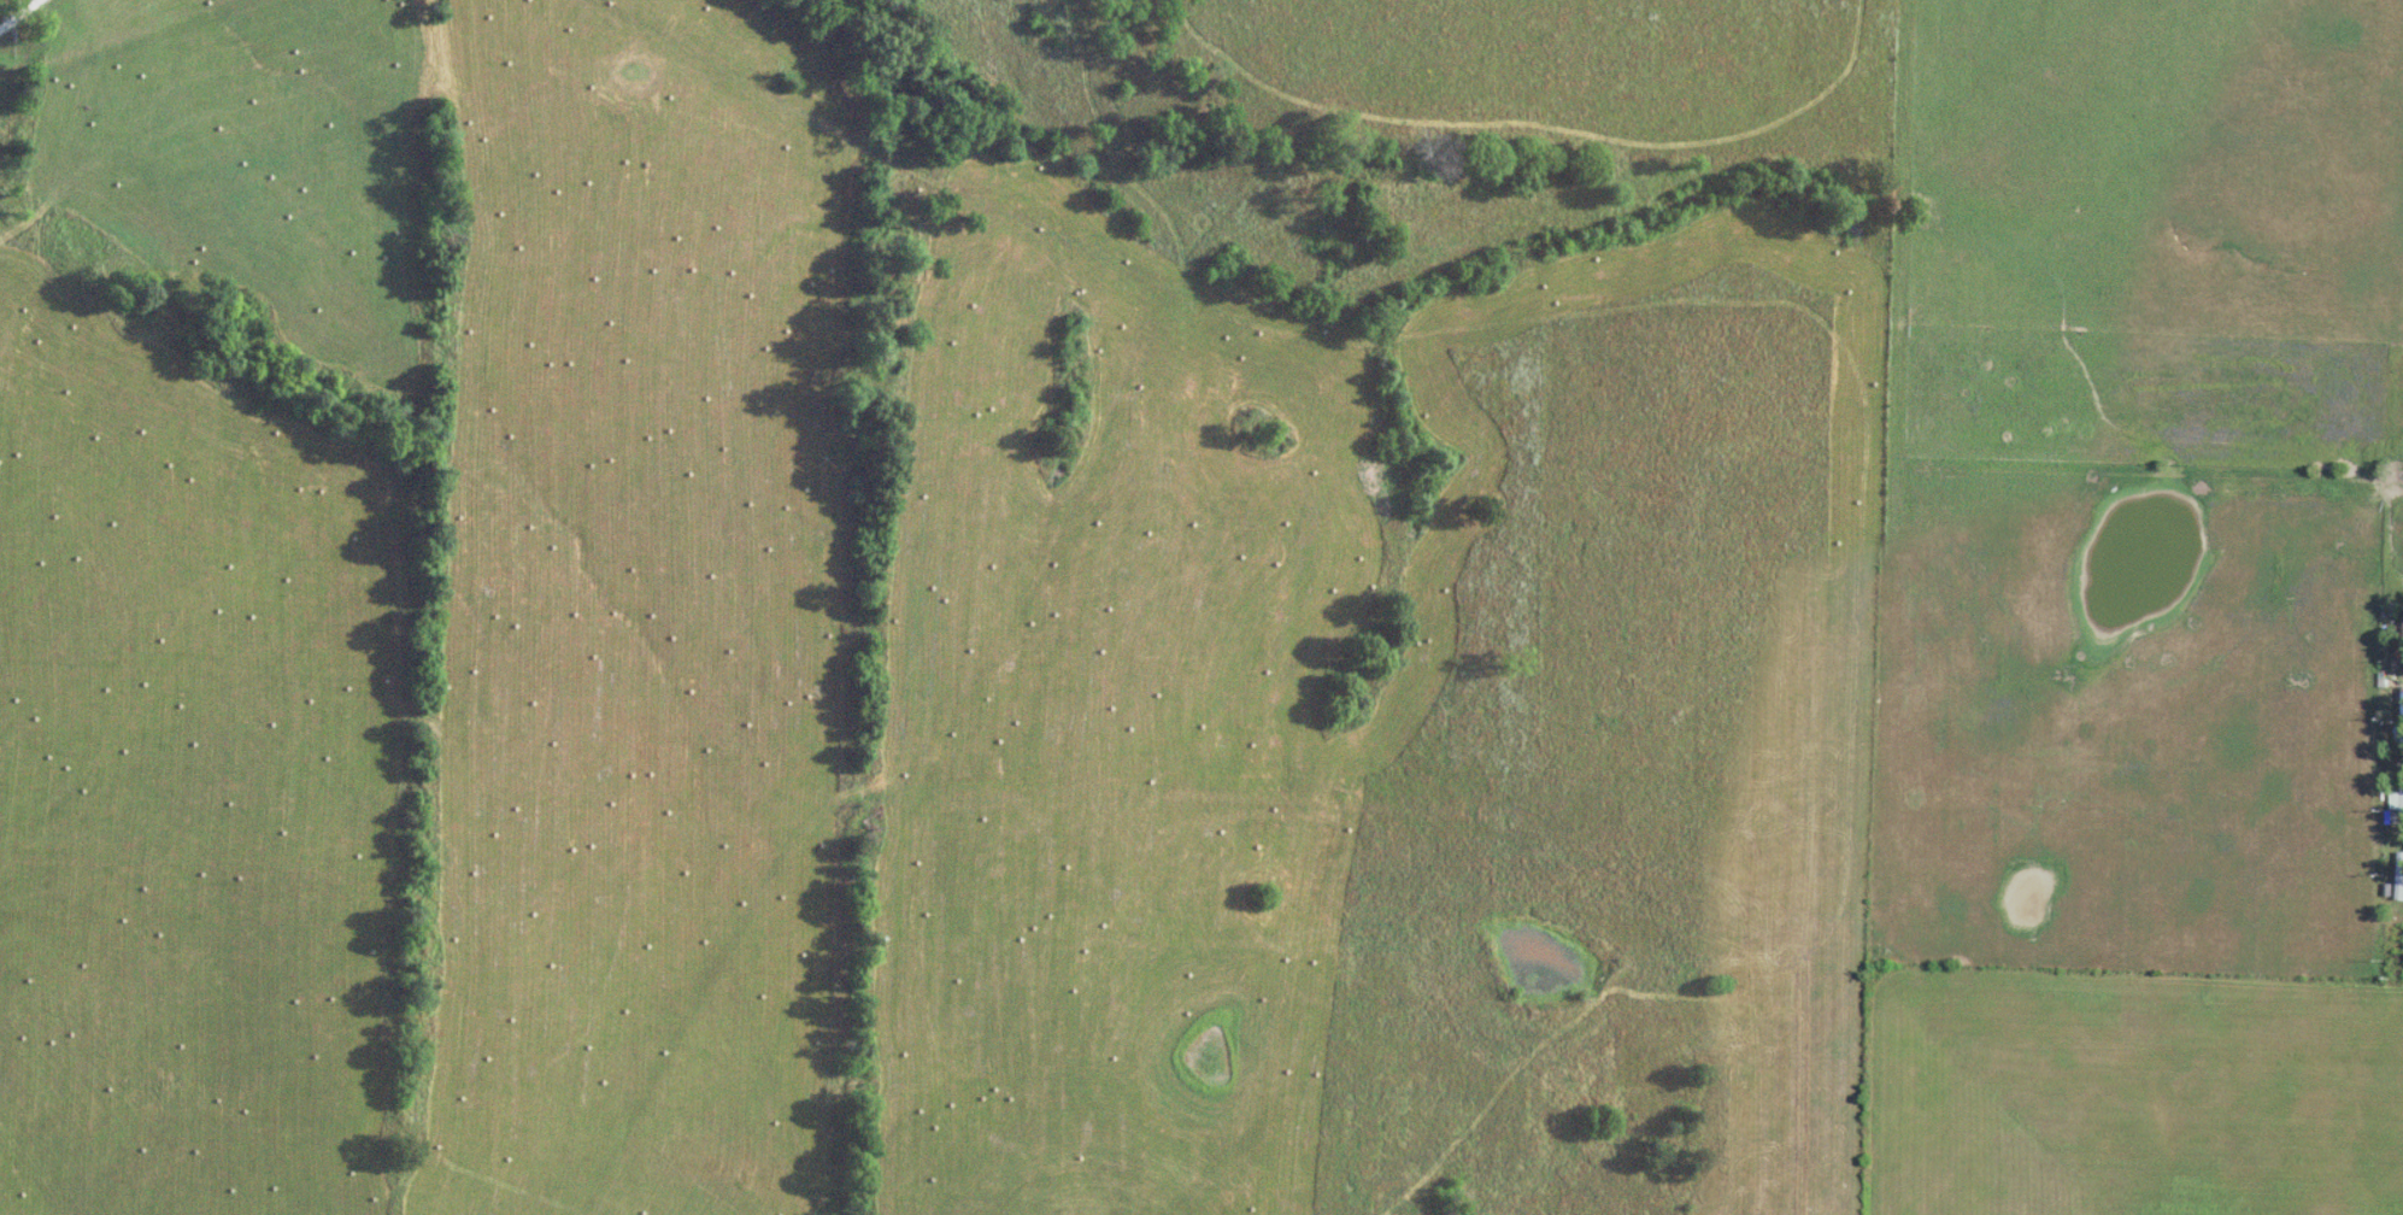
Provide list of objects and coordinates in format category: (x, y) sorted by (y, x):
road: (17, 12)
building: (2401, 875)

